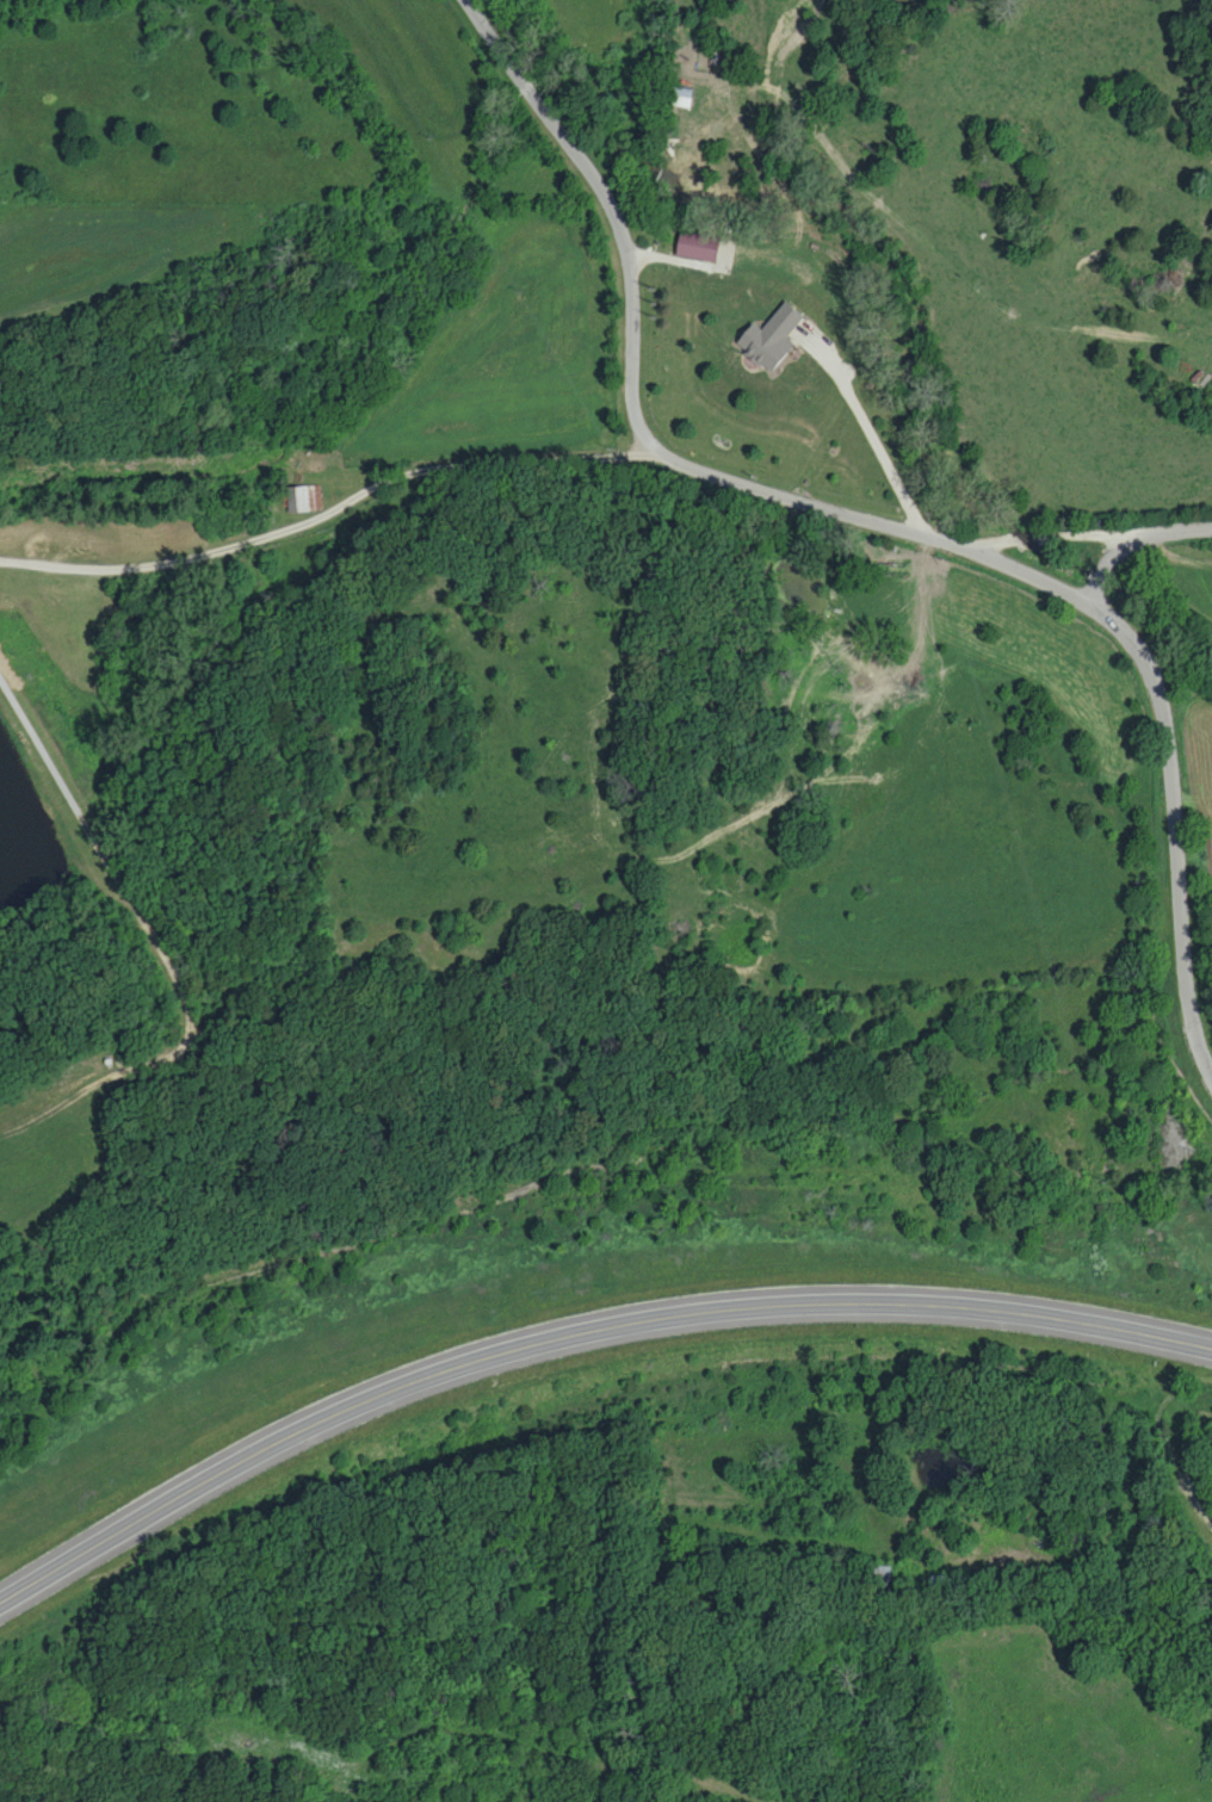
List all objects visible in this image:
building: (695, 244)
building: (768, 336)
road: (632, 367)
road: (870, 429)
building: (303, 497)
road: (329, 513)
road: (1090, 539)
road: (1055, 586)
road: (1132, 588)
road: (1179, 859)
road: (119, 893)
road: (577, 1337)

